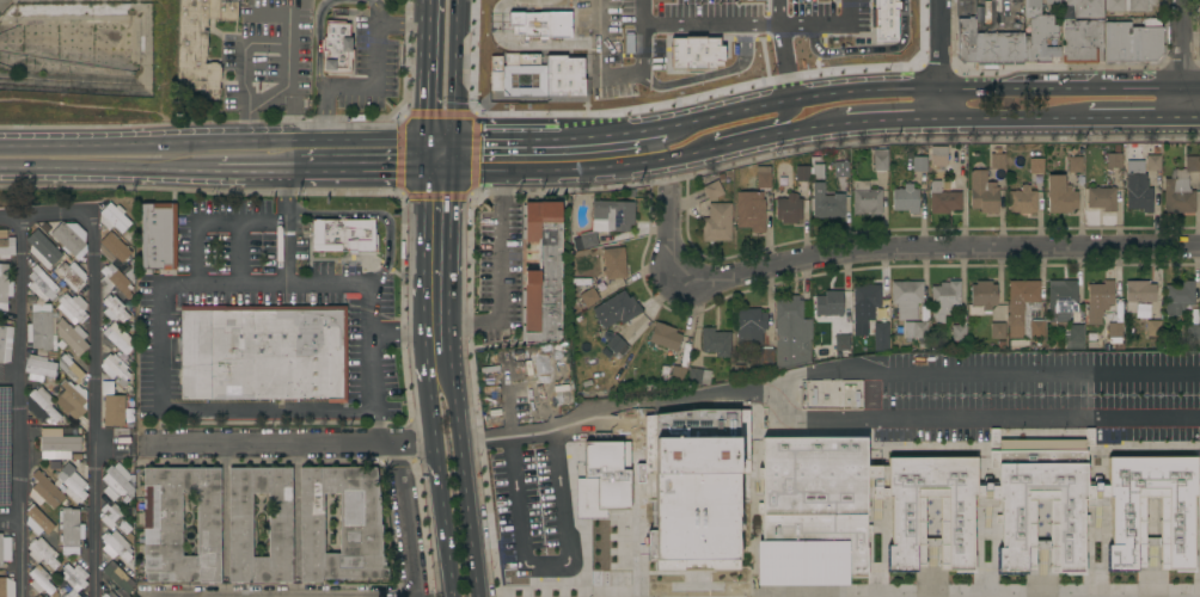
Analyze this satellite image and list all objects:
building: (1052, 1)
building: (704, 2)
building: (1127, 6)
road: (374, 11)
road: (711, 29)
building: (1083, 31)
building: (1039, 33)
road: (318, 41)
building: (201, 43)
building: (1132, 44)
building: (988, 45)
building: (337, 48)
road: (783, 49)
road: (284, 56)
road: (942, 59)
road: (1182, 59)
street lamp: (996, 69)
road: (427, 70)
road: (455, 70)
road: (620, 80)
road: (375, 82)
road: (971, 86)
road: (1192, 86)
road: (711, 116)
road: (888, 118)
road: (1015, 118)
road: (1135, 118)
road: (1192, 118)
road: (755, 124)
road: (610, 136)
road: (221, 141)
road: (349, 141)
road: (440, 141)
road: (504, 141)
road: (754, 141)
road: (85, 142)
traffic signals: (454, 142)
building: (1156, 150)
road: (425, 155)
road: (454, 156)
building: (880, 159)
building: (938, 159)
building: (997, 159)
building: (1114, 159)
road: (669, 161)
building: (1153, 162)
building: (919, 164)
building: (1076, 165)
road: (88, 166)
building: (840, 166)
building: (1036, 166)
road: (233, 167)
road: (357, 168)
building: (818, 168)
road: (616, 170)
building: (779, 170)
traffic signals: (425, 171)
road: (440, 171)
traffic signals: (454, 171)
road: (478, 171)
road: (534, 172)
building: (802, 173)
building: (997, 174)
building: (763, 177)
building: (1078, 180)
building: (779, 181)
building: (1138, 187)
building: (1180, 189)
building: (712, 190)
building: (982, 192)
building: (1060, 196)
building: (943, 197)
building: (867, 198)
building: (906, 198)
building: (1101, 198)
building: (1022, 201)
building: (827, 202)
road: (453, 205)
building: (789, 208)
building: (544, 211)
building: (751, 211)
road: (376, 214)
building: (612, 215)
road: (47, 216)
building: (114, 217)
road: (209, 221)
building: (717, 222)
road: (287, 227)
building: (344, 234)
road: (424, 234)
building: (158, 236)
building: (71, 239)
building: (586, 241)
building: (6, 245)
building: (550, 246)
building: (42, 250)
road: (883, 250)
building: (116, 253)
road: (241, 253)
road: (452, 258)
building: (614, 263)
parking lot: (497, 269)
road: (501, 271)
building: (53, 275)
building: (72, 276)
building: (543, 276)
building: (114, 279)
building: (57, 281)
building: (42, 285)
building: (616, 285)
building: (5, 287)
road: (283, 287)
building: (63, 289)
building: (543, 290)
parking lot: (265, 293)
building: (588, 294)
building: (1139, 294)
building: (867, 297)
building: (982, 297)
building: (1178, 297)
building: (907, 298)
building: (944, 300)
building: (1098, 301)
building: (1060, 302)
building: (829, 303)
building: (1021, 307)
building: (72, 308)
building: (541, 308)
building: (114, 309)
building: (617, 309)
road: (451, 312)
road: (423, 320)
building: (751, 326)
building: (41, 327)
building: (541, 327)
building: (959, 327)
building: (1037, 328)
building: (1153, 328)
building: (916, 330)
building: (881, 331)
building: (998, 331)
building: (1115, 332)
building: (791, 333)
building: (1193, 336)
building: (72, 337)
building: (665, 337)
building: (1073, 337)
building: (715, 341)
building: (5, 343)
building: (118, 343)
building: (1091, 343)
building: (61, 344)
building: (841, 345)
building: (1020, 345)
building: (1119, 346)
building: (614, 347)
building: (264, 352)
building: (686, 353)
building: (766, 356)
building: (1198, 359)
road: (451, 363)
building: (1131, 363)
building: (41, 367)
building: (71, 368)
building: (116, 370)
building: (678, 374)
building: (699, 376)
road: (1144, 380)
building: (593, 393)
building: (851, 394)
building: (819, 395)
building: (118, 398)
building: (73, 400)
road: (93, 405)
building: (42, 406)
road: (620, 406)
road: (18, 407)
building: (112, 410)
road: (782, 414)
building: (4, 443)
road: (288, 445)
building: (59, 447)
road: (437, 469)
building: (602, 478)
building: (71, 484)
building: (117, 485)
road: (465, 486)
building: (44, 491)
building: (815, 492)
building: (696, 498)
road: (8, 505)
road: (224, 505)
road: (295, 507)
building: (115, 518)
building: (1124, 519)
building: (39, 522)
road: (408, 522)
building: (902, 522)
building: (1012, 523)
building: (180, 524)
building: (342, 524)
building: (280, 525)
building: (71, 531)
road: (519, 543)
building: (5, 549)
building: (118, 550)
building: (804, 552)
building: (42, 553)
building: (74, 577)
building: (116, 577)
building: (41, 581)
building: (5, 586)
building: (558, 593)
building: (577, 593)
building: (598, 593)
building: (108, 595)
building: (38, 596)
building: (67, 596)
building: (76, 596)
building: (118, 596)
road: (281, 596)

